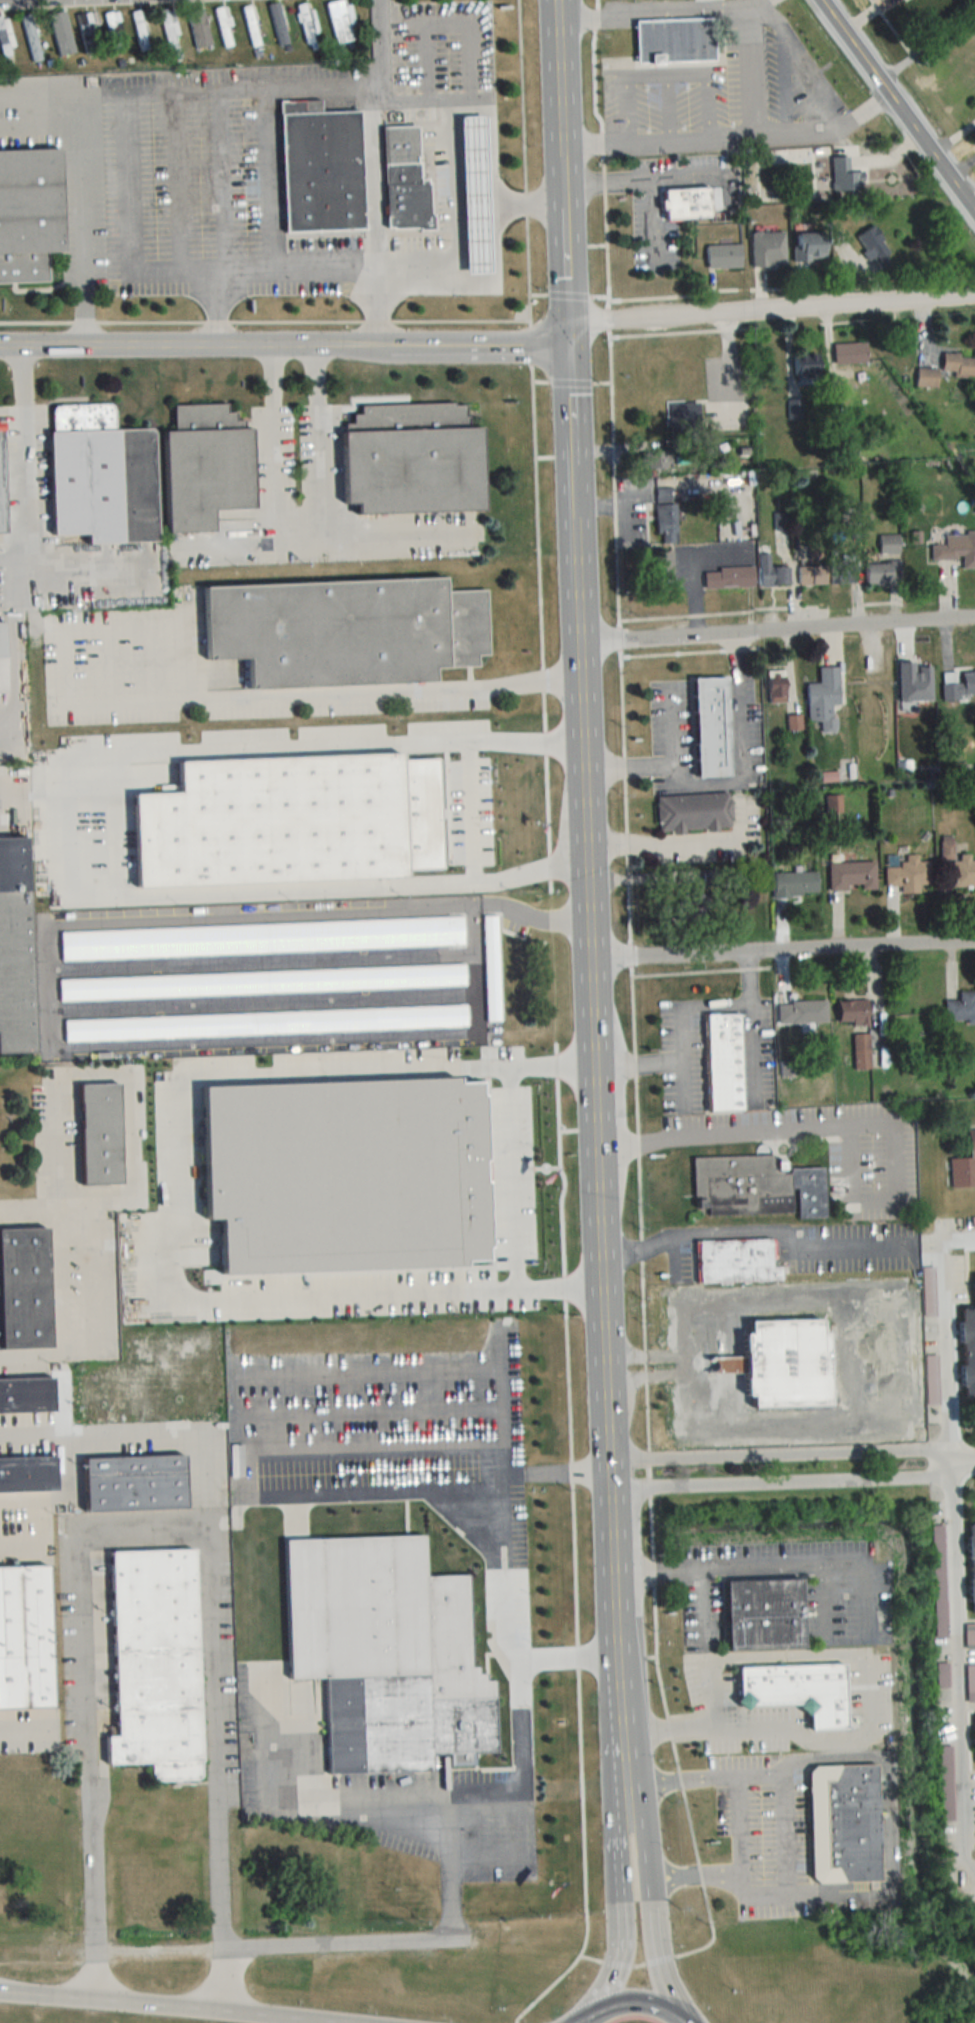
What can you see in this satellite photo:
road: (664, 12)
building: (341, 22)
building: (278, 24)
building: (307, 24)
building: (251, 27)
road: (891, 27)
building: (199, 29)
building: (169, 30)
building: (112, 31)
building: (141, 31)
building: (85, 33)
building: (59, 34)
building: (30, 37)
building: (6, 39)
building: (680, 41)
road: (925, 44)
road: (752, 73)
road: (128, 98)
road: (39, 101)
road: (471, 101)
road: (559, 101)
road: (896, 108)
road: (951, 135)
road: (730, 139)
road: (914, 167)
building: (322, 168)
building: (842, 174)
road: (638, 178)
road: (267, 180)
building: (406, 180)
road: (218, 182)
road: (175, 183)
building: (477, 193)
road: (80, 198)
building: (689, 203)
building: (30, 213)
road: (372, 218)
road: (653, 223)
building: (806, 246)
building: (767, 249)
building: (723, 256)
road: (255, 268)
road: (567, 274)
road: (474, 281)
road: (769, 313)
traffic signals: (570, 345)
road: (473, 346)
road: (136, 347)
road: (325, 347)
building: (847, 353)
building: (956, 365)
building: (801, 368)
building: (924, 377)
road: (571, 393)
building: (680, 412)
road: (320, 441)
road: (275, 443)
road: (26, 455)
building: (653, 459)
building: (414, 460)
building: (208, 467)
building: (102, 476)
building: (2, 481)
building: (664, 523)
road: (328, 535)
building: (887, 544)
building: (955, 548)
building: (658, 565)
building: (839, 571)
building: (875, 572)
building: (769, 573)
building: (809, 575)
building: (726, 577)
road: (776, 630)
building: (346, 631)
building: (3, 659)
building: (957, 685)
building: (773, 688)
road: (325, 695)
building: (821, 698)
building: (709, 727)
road: (628, 764)
road: (733, 783)
road: (2, 799)
building: (690, 812)
road: (468, 813)
road: (62, 831)
road: (684, 839)
building: (958, 866)
building: (907, 874)
building: (849, 876)
building: (793, 884)
building: (15, 890)
building: (262, 938)
road: (783, 945)
building: (492, 968)
building: (262, 983)
road: (47, 985)
building: (960, 1007)
building: (799, 1012)
building: (850, 1012)
road: (681, 1022)
building: (265, 1024)
road: (752, 1024)
building: (858, 1052)
building: (724, 1061)
road: (637, 1063)
road: (116, 1074)
road: (596, 1101)
building: (312, 1126)
road: (837, 1126)
building: (102, 1135)
building: (964, 1164)
building: (204, 1170)
road: (509, 1177)
building: (755, 1184)
road: (639, 1216)
road: (760, 1231)
parking lot: (810, 1250)
road: (672, 1258)
building: (736, 1261)
road: (70, 1282)
building: (25, 1289)
building: (532, 1295)
building: (966, 1352)
building: (786, 1364)
road: (38, 1370)
road: (57, 1370)
building: (27, 1397)
road: (166, 1426)
road: (64, 1430)
road: (959, 1459)
road: (939, 1464)
road: (564, 1470)
building: (28, 1474)
building: (138, 1482)
road: (147, 1528)
road: (947, 1548)
road: (501, 1554)
road: (799, 1564)
building: (972, 1565)
road: (656, 1570)
road: (702, 1605)
building: (765, 1614)
building: (971, 1635)
building: (26, 1637)
road: (577, 1656)
building: (157, 1663)
road: (576, 1680)
building: (971, 1683)
building: (799, 1691)
road: (711, 1695)
road: (518, 1713)
building: (407, 1725)
road: (709, 1727)
road: (22, 1731)
road: (489, 1788)
road: (739, 1801)
road: (687, 1817)
building: (845, 1824)
road: (681, 1876)
road: (651, 1886)
road: (618, 1887)
road: (305, 1946)
road: (591, 1957)
road: (658, 1959)
road: (617, 1963)
road: (638, 1964)
road: (635, 2000)
road: (164, 2006)
road: (588, 2016)
road: (678, 2019)

